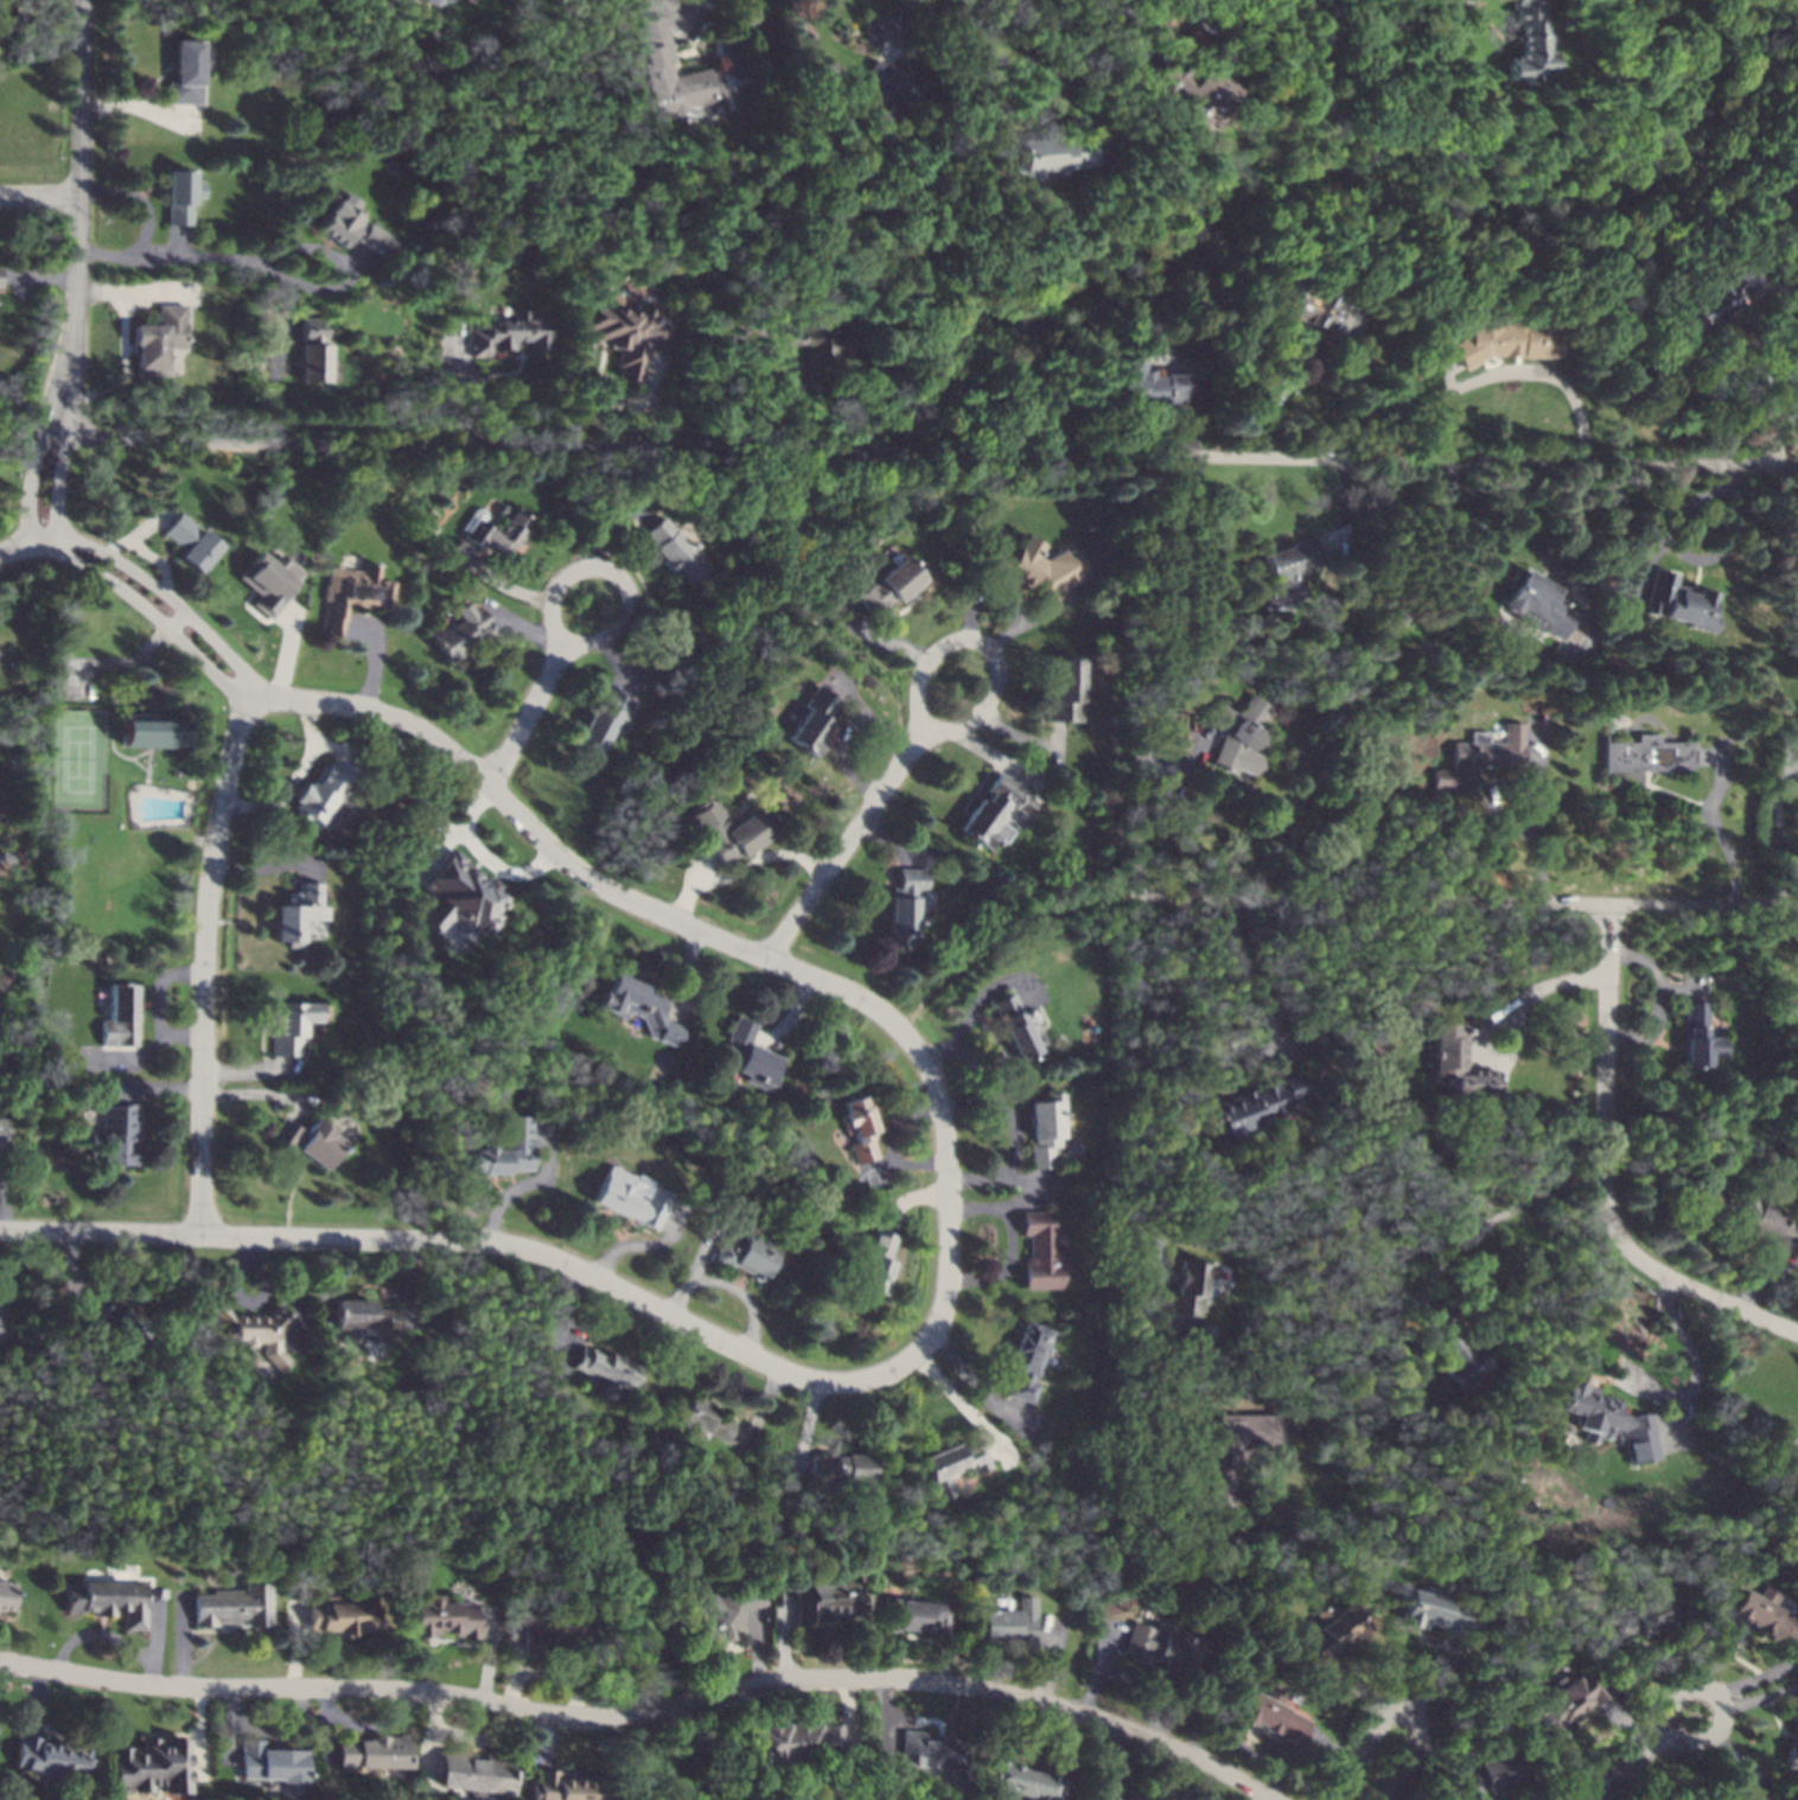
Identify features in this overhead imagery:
building: (414, 0)
building: (431, 1)
road: (1459, 7)
road: (681, 13)
road: (897, 23)
road: (1104, 25)
building: (1525, 43)
building: (655, 65)
road: (1037, 69)
building: (183, 72)
building: (888, 83)
building: (1198, 94)
building: (1048, 155)
building: (179, 196)
road: (39, 202)
road: (140, 203)
road: (77, 217)
building: (352, 227)
road: (266, 272)
building: (1719, 297)
building: (1316, 310)
building: (621, 332)
building: (506, 333)
building: (155, 339)
building: (1503, 341)
building: (811, 345)
road: (122, 349)
building: (312, 351)
road: (1511, 375)
building: (1146, 386)
road: (1277, 394)
road: (348, 438)
road: (890, 452)
road: (1569, 458)
road: (1786, 465)
road: (31, 490)
road: (57, 494)
building: (496, 530)
building: (189, 541)
road: (32, 549)
building: (671, 549)
building: (1289, 559)
building: (1038, 567)
road: (610, 574)
building: (269, 581)
building: (887, 585)
road: (986, 592)
building: (350, 594)
building: (1677, 602)
building: (1541, 608)
road: (1040, 616)
building: (459, 630)
road: (983, 653)
building: (1065, 691)
road: (345, 705)
road: (525, 713)
building: (599, 719)
building: (811, 720)
building: (148, 730)
building: (1238, 734)
building: (1646, 755)
building: (1480, 756)
road: (294, 781)
building: (320, 789)
building: (994, 812)
road: (1542, 820)
road: (1716, 829)
building: (728, 831)
road: (1780, 837)
road: (849, 844)
building: (459, 896)
road: (1466, 903)
building: (295, 911)
road: (1003, 933)
road: (757, 950)
road: (203, 962)
road: (1135, 982)
road: (1251, 982)
building: (639, 1007)
building: (117, 1016)
road: (1498, 1019)
building: (1015, 1025)
building: (289, 1026)
building: (1697, 1036)
building: (750, 1055)
building: (1456, 1064)
building: (1255, 1105)
road: (1006, 1112)
building: (859, 1128)
building: (1045, 1128)
building: (114, 1134)
building: (4, 1136)
building: (308, 1140)
building: (506, 1150)
road: (1605, 1176)
building: (629, 1198)
road: (948, 1200)
road: (5, 1206)
road: (978, 1211)
road: (1009, 1214)
road: (1503, 1219)
building: (1766, 1225)
road: (98, 1233)
road: (383, 1239)
building: (1039, 1251)
building: (746, 1254)
building: (876, 1261)
building: (1187, 1289)
building: (362, 1317)
building: (114, 1319)
building: (257, 1331)
road: (729, 1342)
road: (1685, 1344)
building: (1452, 1348)
building: (1026, 1360)
building: (602, 1370)
building: (702, 1418)
building: (1607, 1420)
building: (839, 1467)
building: (951, 1467)
building: (1220, 1473)
building: (5, 1597)
building: (824, 1599)
building: (108, 1602)
building: (713, 1605)
building: (234, 1607)
building: (1433, 1613)
building: (340, 1615)
building: (1761, 1616)
building: (442, 1617)
building: (1640, 1617)
building: (914, 1618)
building: (1006, 1626)
building: (554, 1628)
road: (97, 1635)
building: (1331, 1635)
road: (779, 1636)
road: (153, 1640)
road: (1797, 1640)
road: (181, 1642)
building: (1163, 1645)
road: (294, 1647)
road: (754, 1648)
road: (954, 1650)
road: (1054, 1658)
road: (489, 1659)
road: (1101, 1664)
road: (516, 1665)
road: (1454, 1665)
road: (563, 1673)
road: (1618, 1677)
road: (1759, 1677)
road: (958, 1684)
road: (313, 1687)
road: (1145, 1690)
road: (1357, 1690)
road: (1760, 1698)
road: (34, 1700)
building: (1566, 1703)
road: (1399, 1706)
road: (848, 1713)
building: (1270, 1716)
road: (327, 1721)
road: (893, 1722)
road: (230, 1724)
road: (1625, 1725)
road: (376, 1726)
road: (198, 1729)
road: (282, 1732)
road: (1714, 1734)
building: (1791, 1734)
road: (431, 1735)
road: (483, 1738)
road: (548, 1739)
road: (885, 1739)
building: (791, 1742)
road: (1242, 1749)
road: (1333, 1751)
building: (372, 1753)
building: (927, 1753)
road: (1446, 1753)
road: (1071, 1755)
building: (52, 1760)
road: (1121, 1762)
building: (269, 1763)
building: (151, 1766)
road: (1745, 1766)
road: (1620, 1772)
building: (473, 1774)
building: (1488, 1774)
building: (1020, 1780)
building: (563, 1787)
building: (1740, 1792)
road: (1262, 1798)
road: (1592, 1798)
building: (1097, 1799)

